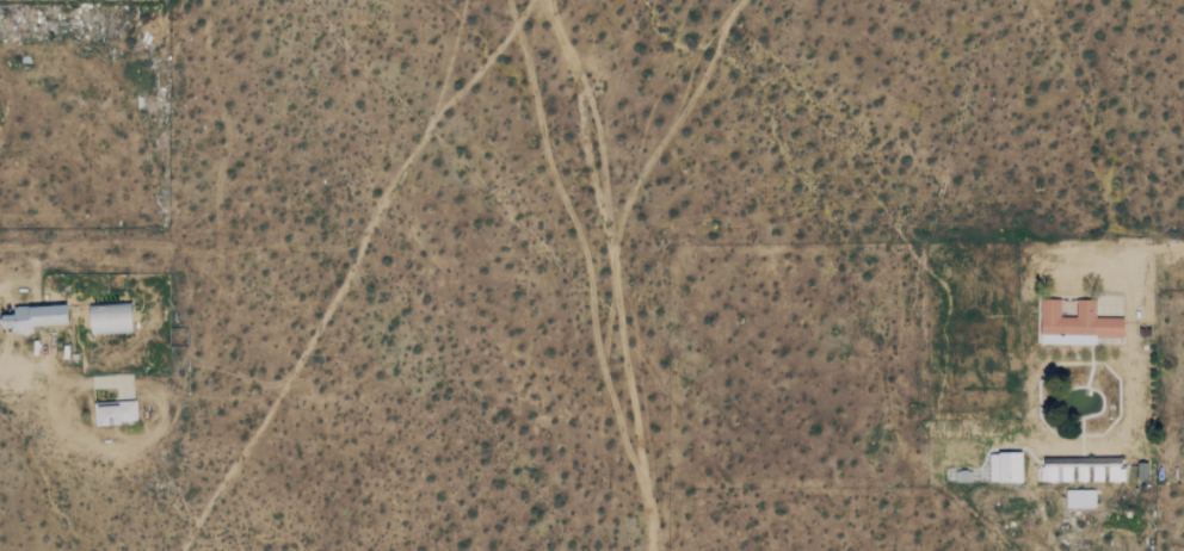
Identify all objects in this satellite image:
road: (8, 105)
road: (1174, 246)
building: (32, 317)
building: (110, 317)
building: (1078, 322)
road: (8, 380)
building: (113, 411)
road: (160, 426)
building: (1005, 466)
building: (1055, 473)
building: (1079, 499)

